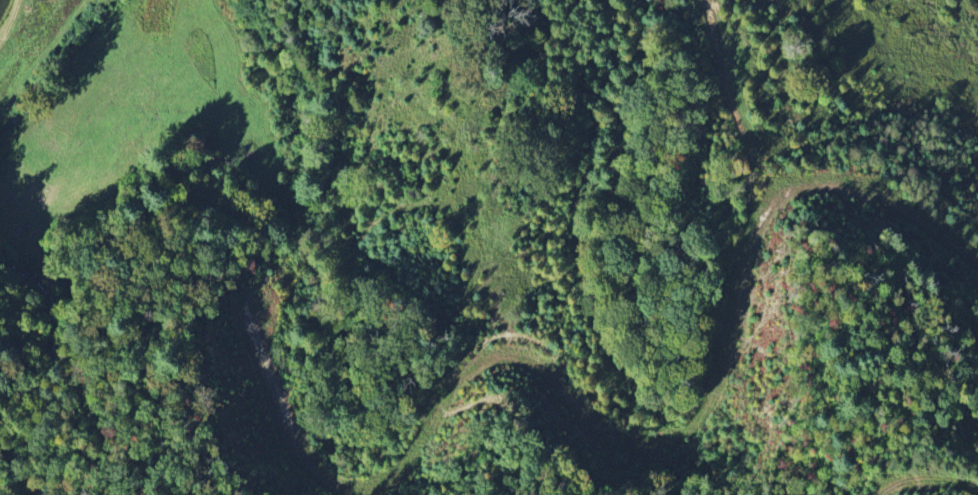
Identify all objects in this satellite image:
road: (605, 429)

